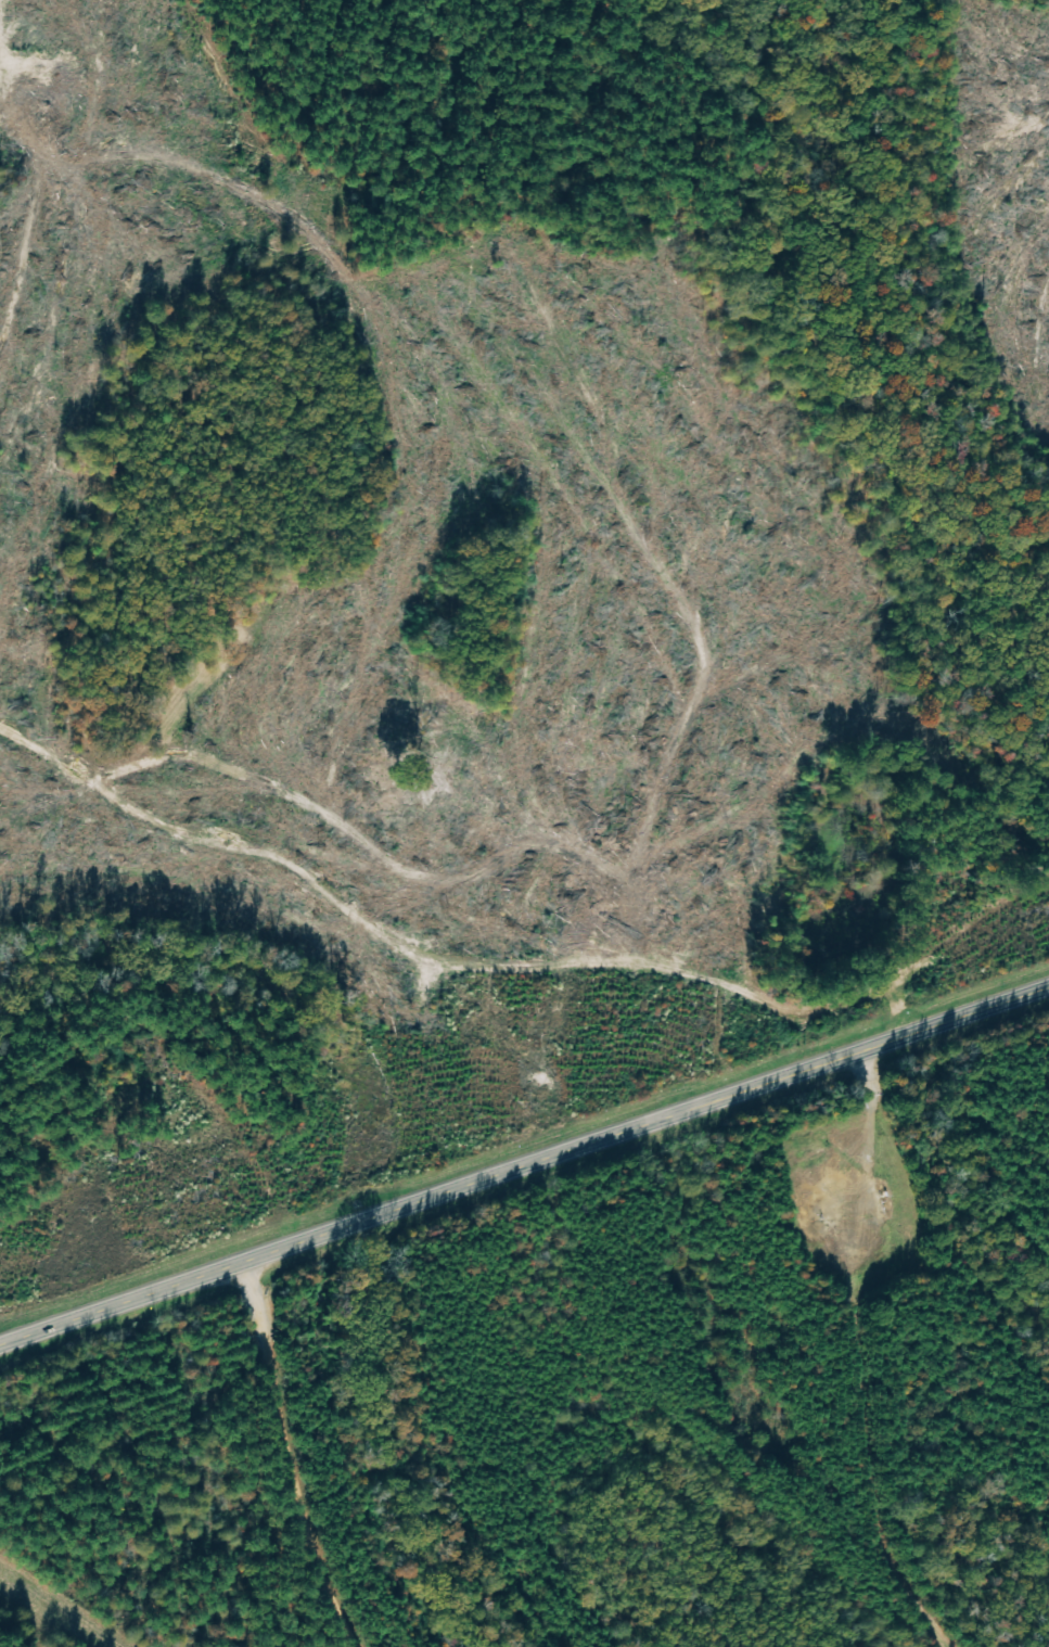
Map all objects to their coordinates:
road: (524, 1166)
road: (279, 1465)

